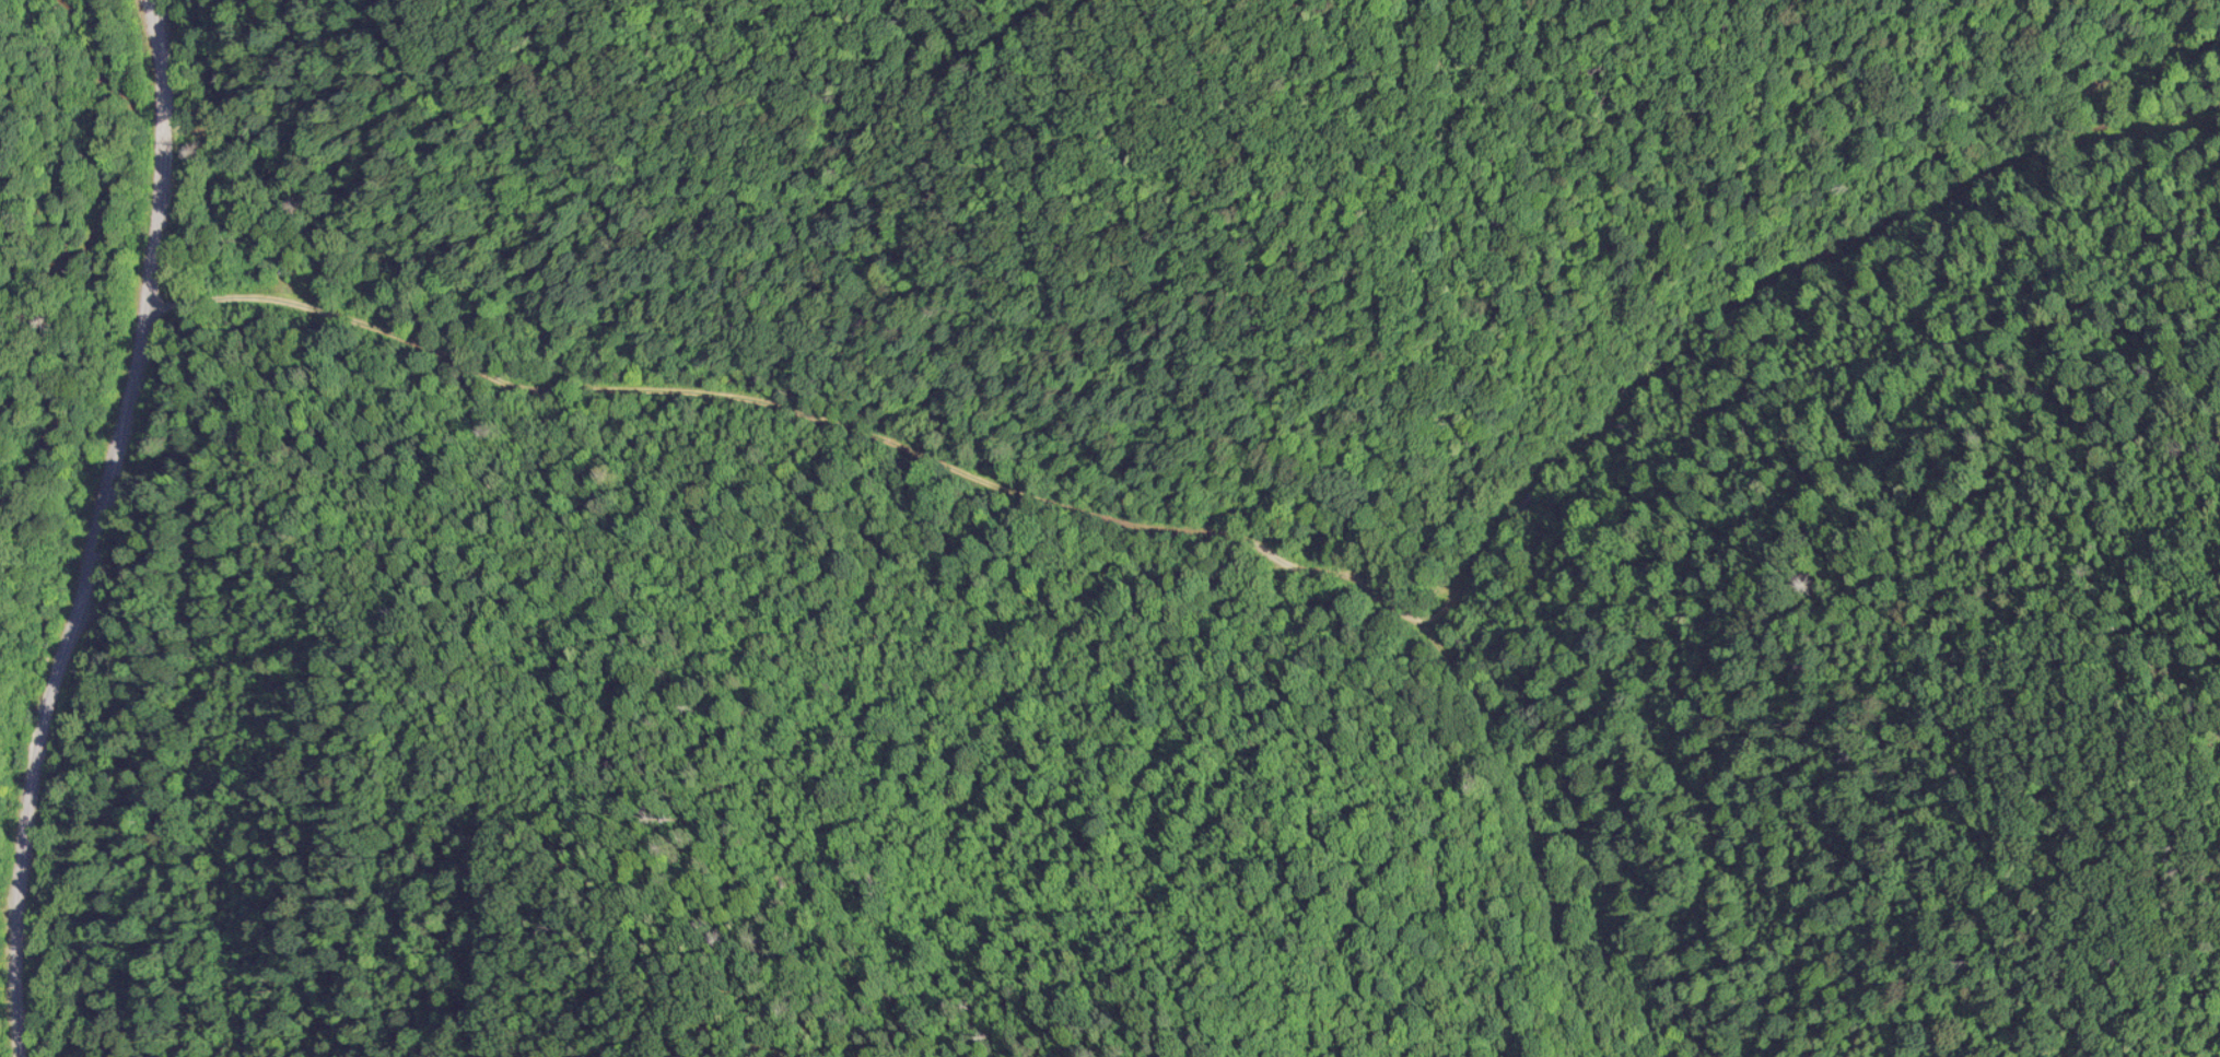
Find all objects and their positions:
road: (103, 530)
quarry: (250, 530)

